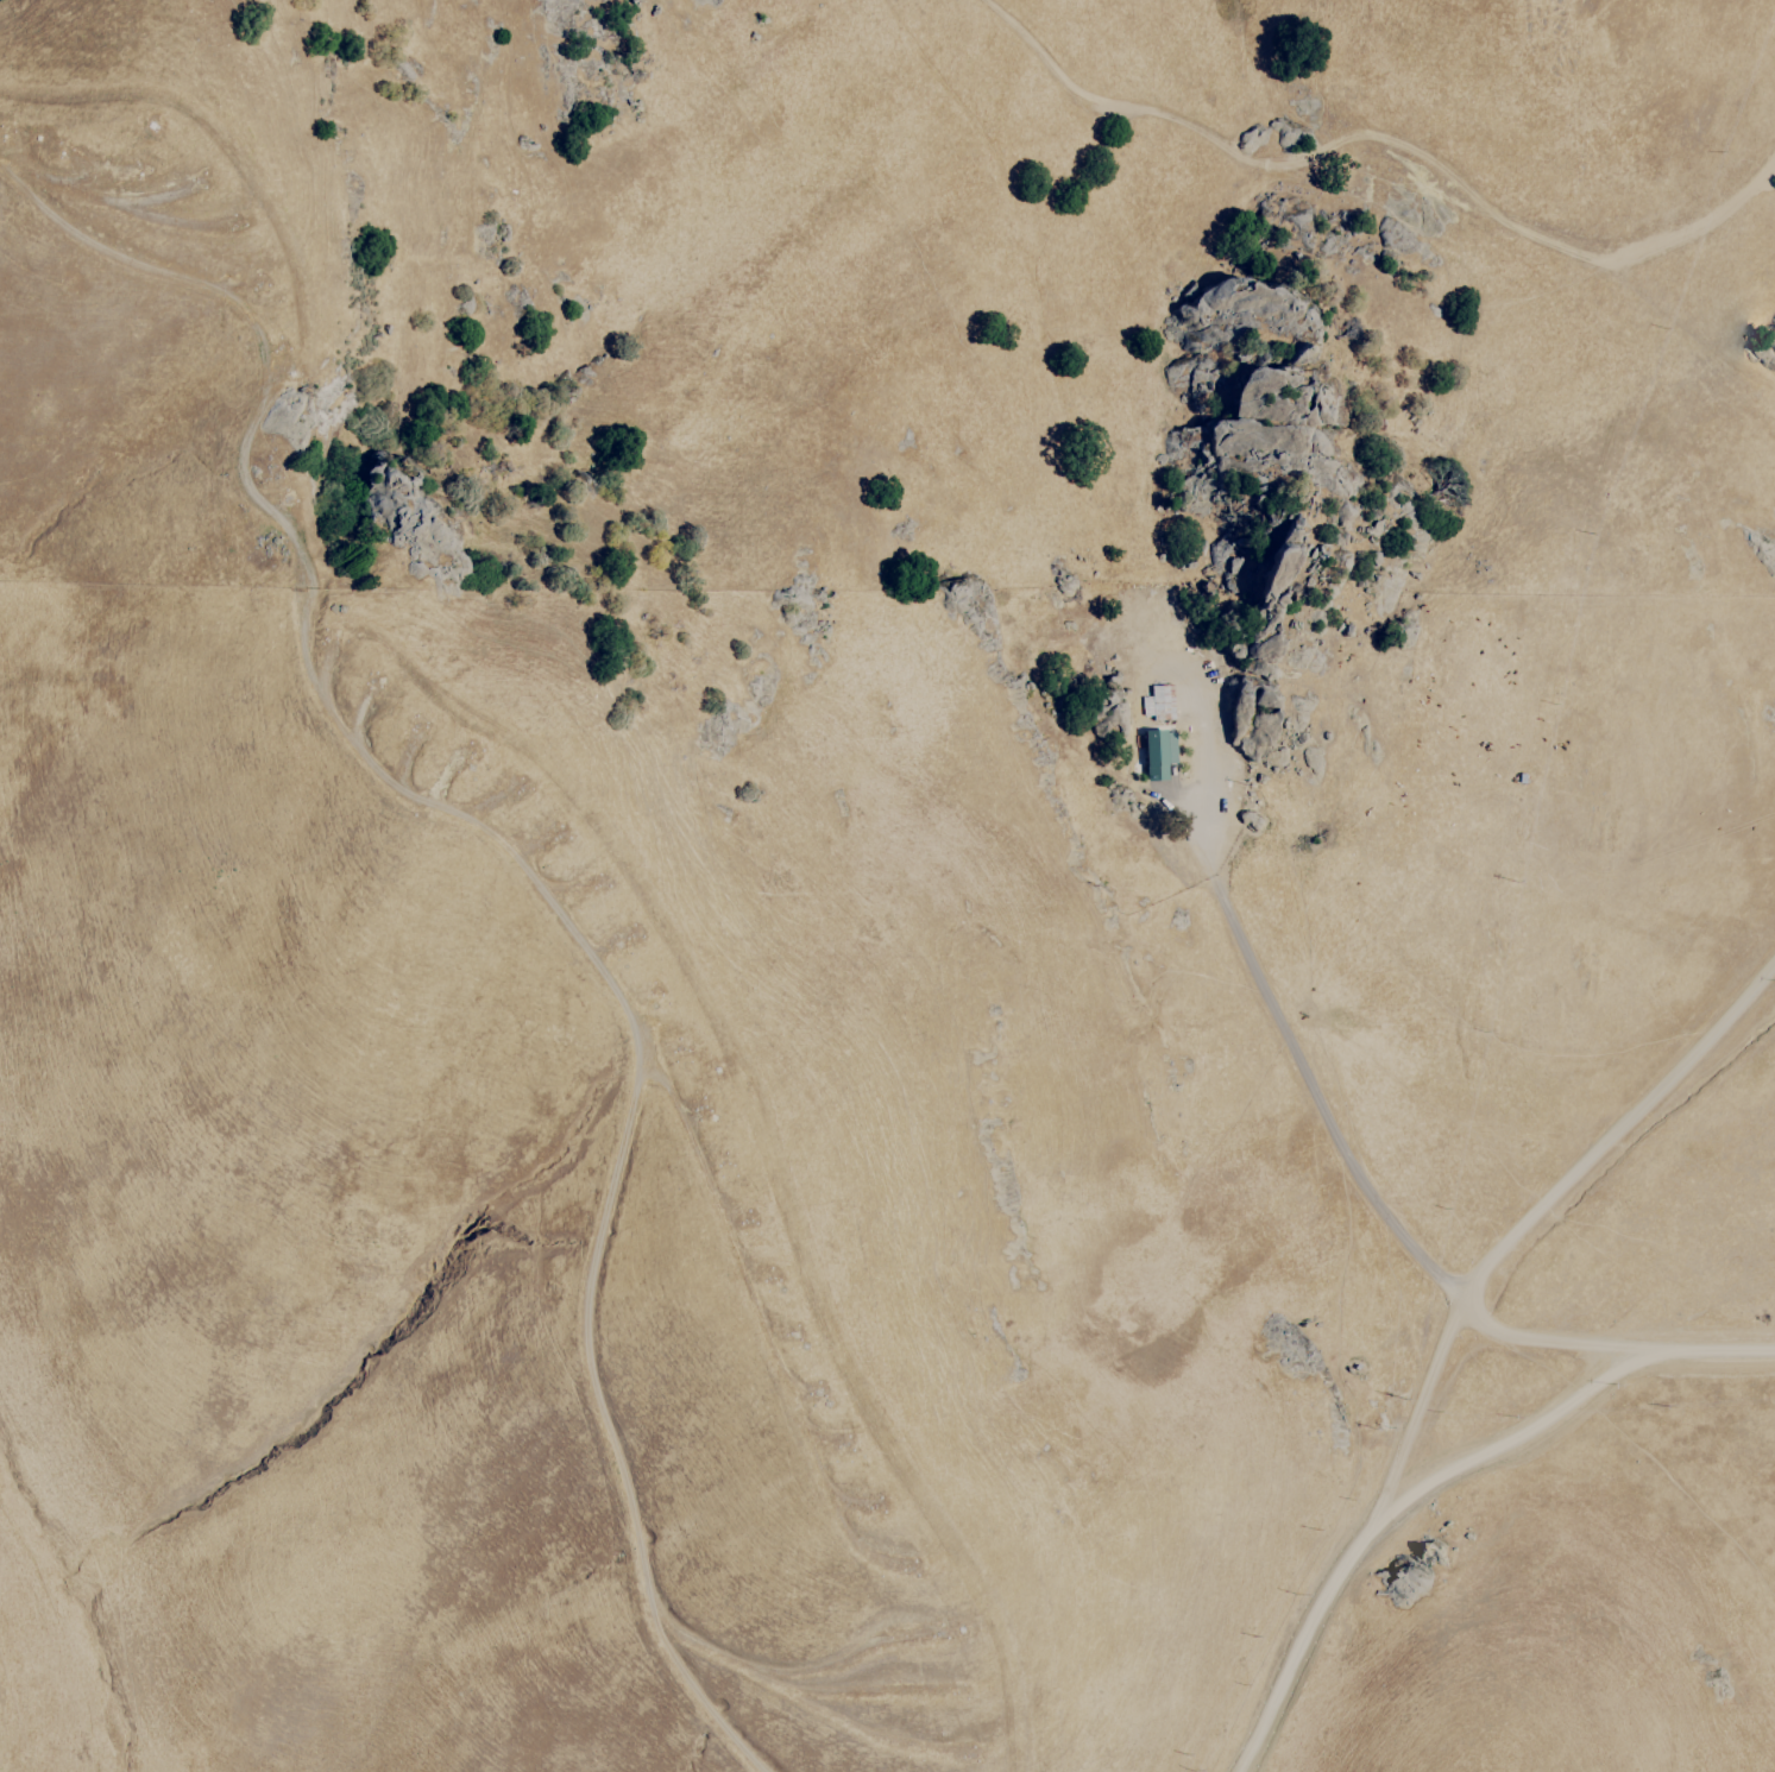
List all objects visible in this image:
building: (1157, 755)
road: (1267, 1001)
road: (1453, 1331)
road: (760, 1768)

